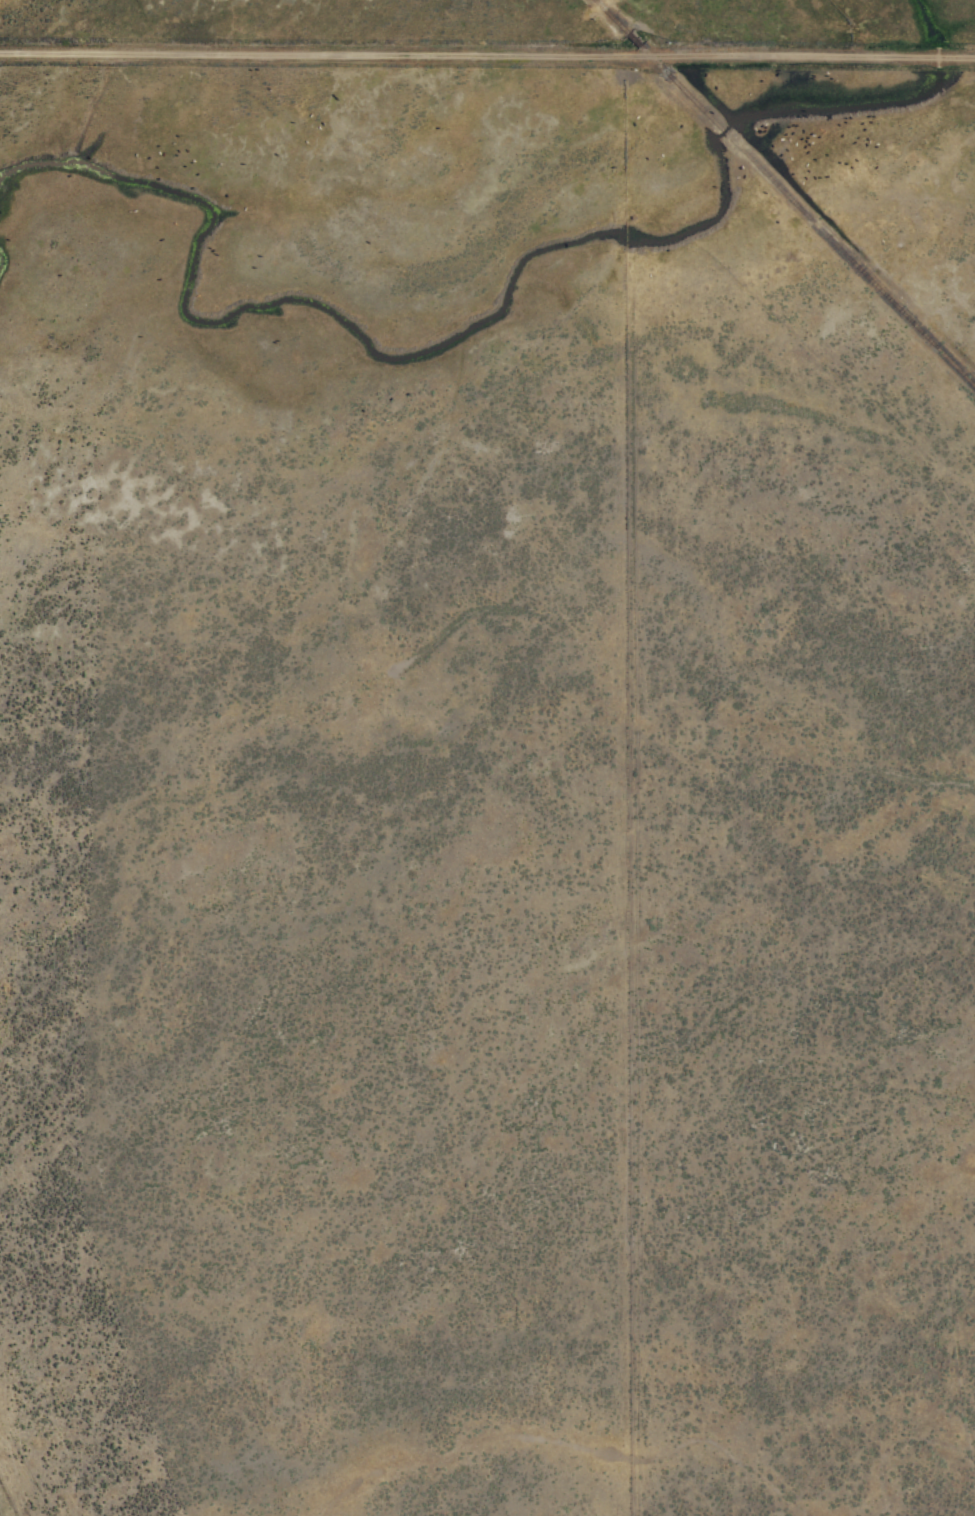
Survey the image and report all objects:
road: (487, 52)
railway: (785, 193)
crop: (487, 758)

